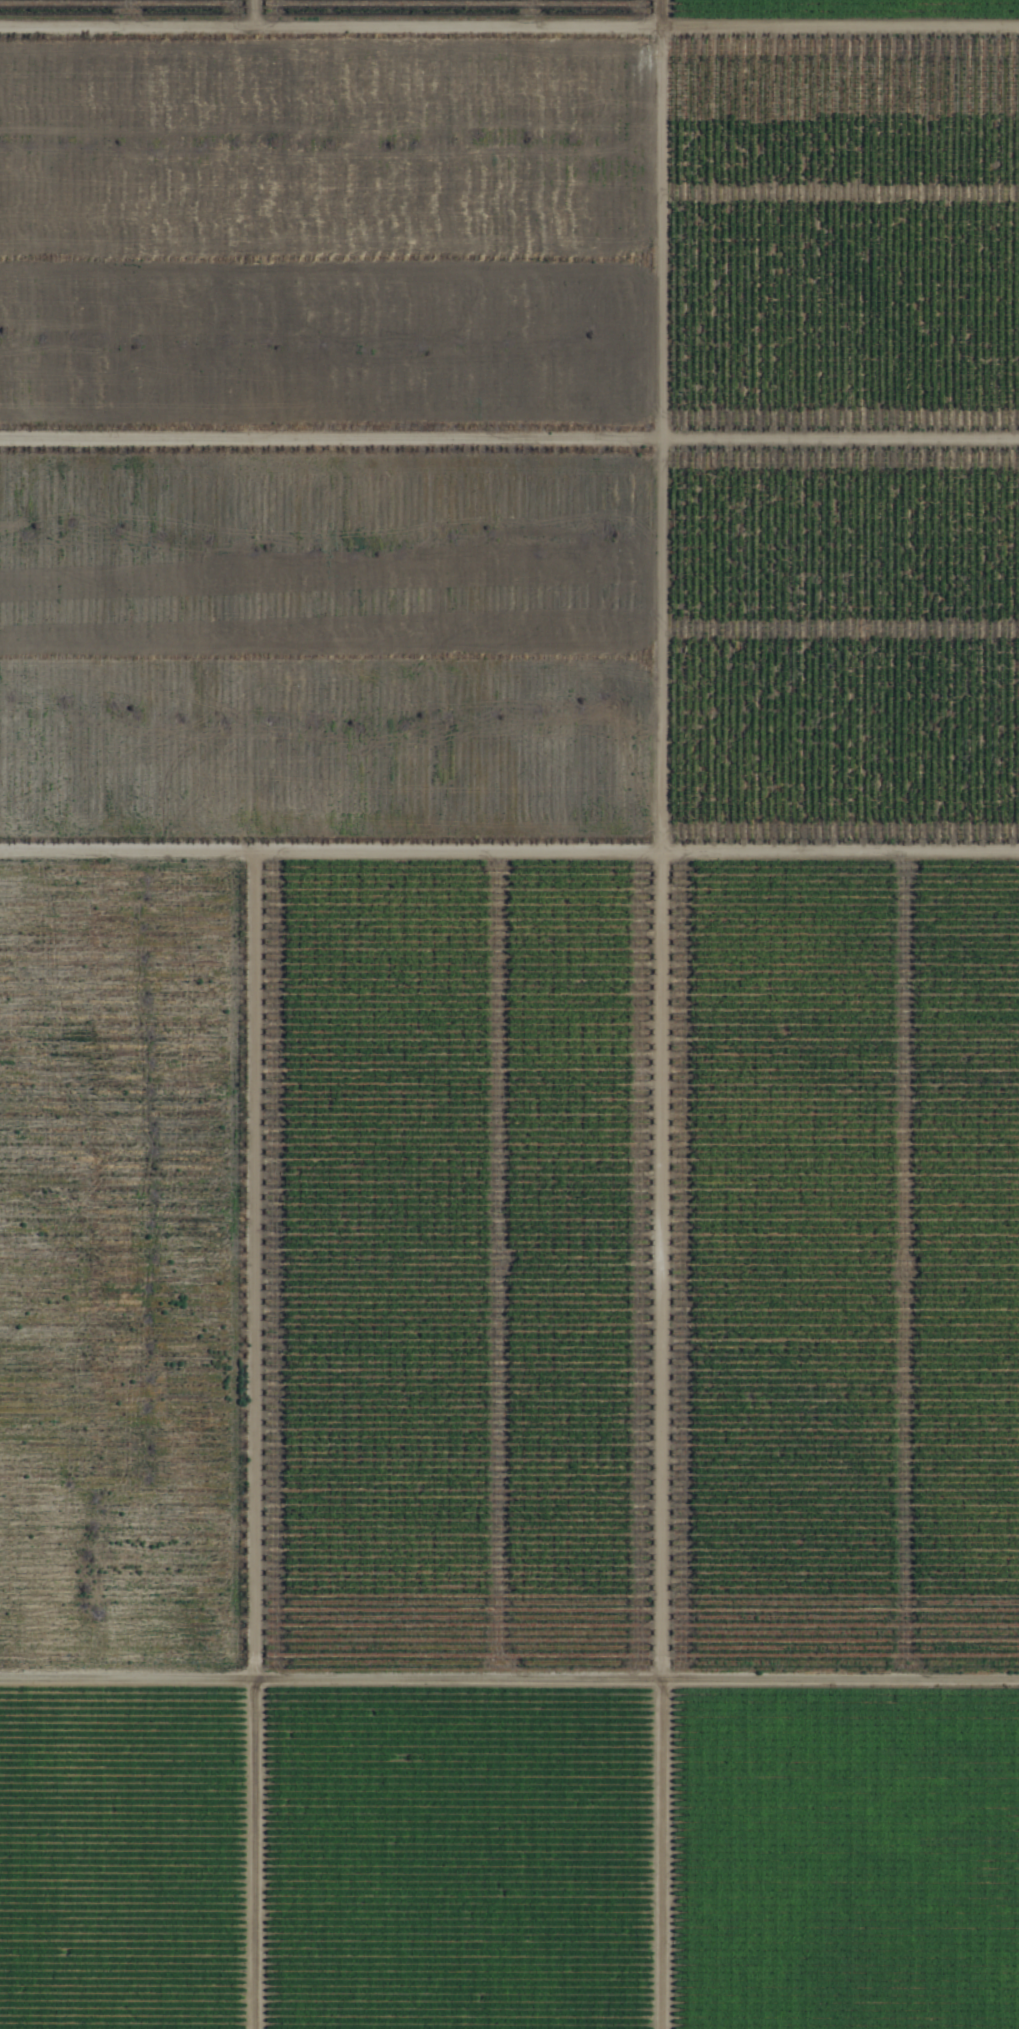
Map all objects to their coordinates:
crop: (509, 1014)

